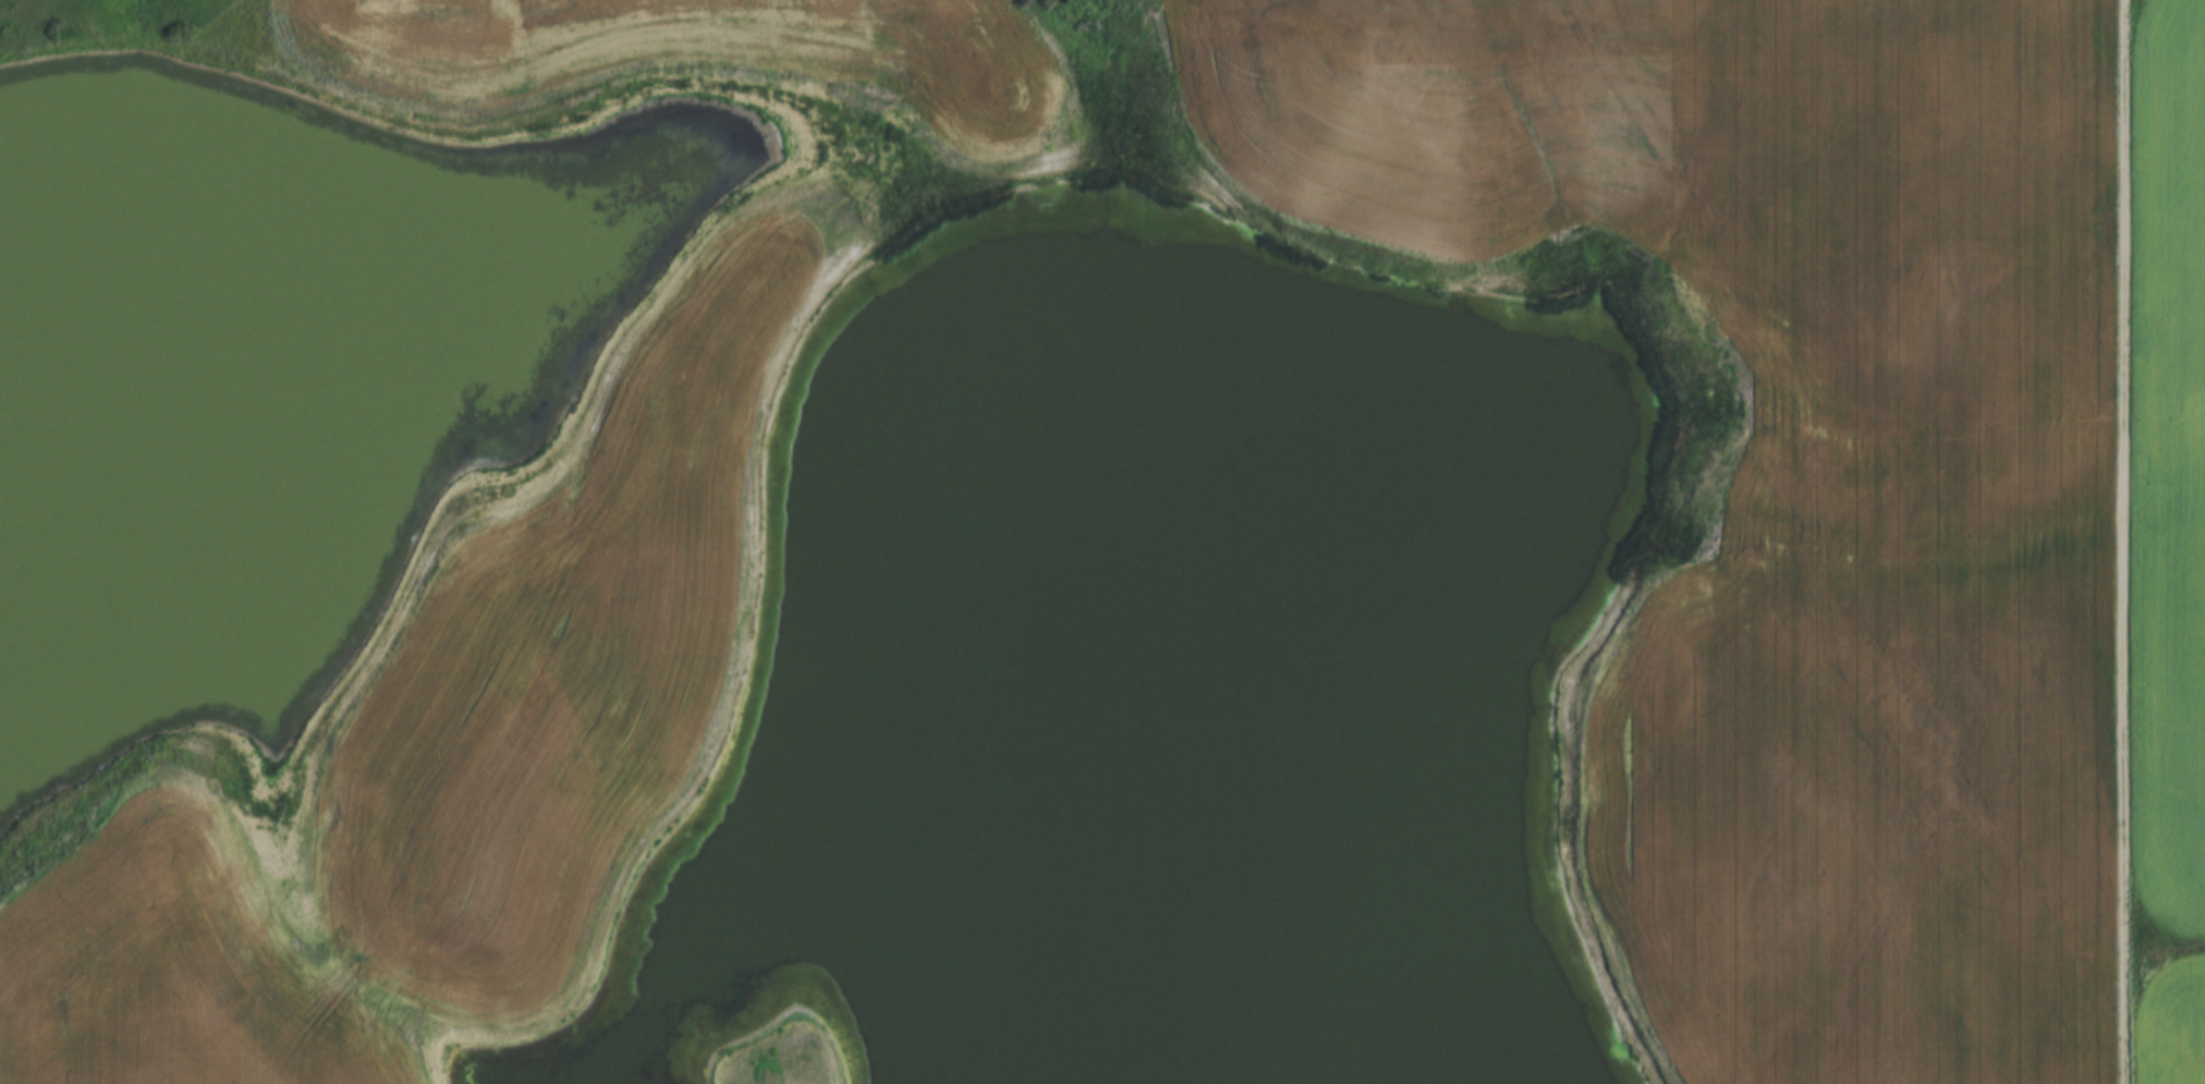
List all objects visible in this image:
road: (2128, 540)

